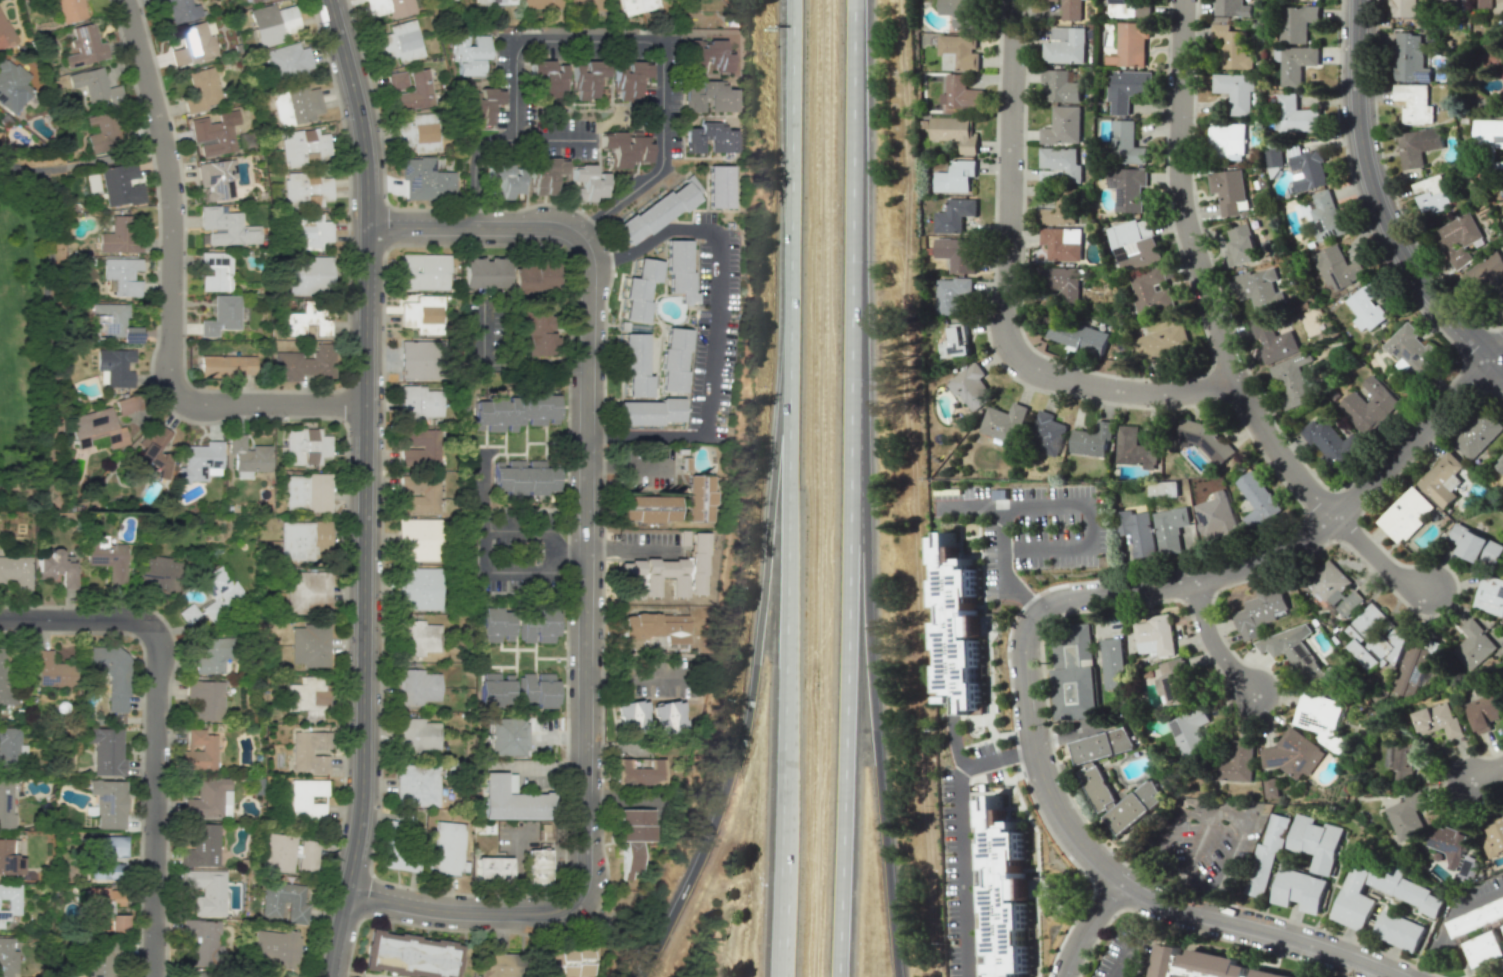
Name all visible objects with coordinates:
building: (251, 0)
building: (496, 2)
building: (1488, 4)
building: (540, 5)
building: (587, 5)
building: (637, 6)
building: (389, 7)
building: (1233, 8)
building: (1404, 8)
building: (1069, 9)
building: (1128, 9)
building: (69, 10)
building: (181, 10)
building: (959, 12)
building: (1297, 22)
building: (272, 23)
building: (5, 34)
road: (600, 41)
building: (400, 42)
building: (192, 44)
building: (85, 45)
building: (1064, 45)
building: (1129, 45)
building: (1232, 47)
building: (959, 50)
building: (708, 52)
building: (468, 57)
building: (1411, 58)
building: (1494, 61)
building: (286, 62)
building: (1294, 63)
street lamp: (162, 76)
building: (396, 81)
building: (542, 81)
building: (587, 82)
building: (92, 84)
building: (631, 84)
building: (12, 85)
building: (1058, 87)
building: (1126, 89)
building: (201, 91)
building: (415, 91)
building: (1235, 92)
building: (1501, 92)
building: (960, 93)
building: (702, 101)
building: (1414, 103)
building: (296, 104)
building: (481, 111)
building: (1294, 114)
street lamp: (339, 117)
building: (1062, 126)
building: (952, 130)
building: (102, 131)
building: (419, 133)
building: (1488, 133)
building: (211, 134)
road: (554, 139)
building: (1226, 141)
building: (704, 143)
building: (1126, 144)
building: (1419, 145)
building: (303, 147)
building: (625, 149)
road: (81, 165)
building: (1059, 165)
road: (790, 170)
building: (1309, 170)
building: (955, 176)
building: (216, 178)
building: (425, 179)
building: (543, 180)
building: (120, 184)
building: (500, 184)
building: (692, 184)
building: (582, 185)
building: (719, 186)
road: (852, 188)
building: (1127, 188)
building: (306, 189)
building: (1230, 191)
building: (1501, 193)
building: (1432, 194)
road: (1377, 205)
building: (1059, 209)
building: (656, 212)
building: (953, 214)
parking lot: (704, 216)
road: (671, 221)
building: (226, 227)
building: (305, 231)
building: (118, 236)
building: (1459, 239)
building: (1062, 243)
building: (1134, 243)
building: (1241, 245)
building: (956, 253)
road: (697, 268)
building: (1338, 268)
parking lot: (731, 269)
building: (215, 270)
building: (680, 270)
building: (420, 271)
building: (480, 273)
parking lot: (705, 273)
building: (122, 275)
building: (543, 275)
building: (1486, 275)
building: (309, 276)
building: (1064, 282)
road: (170, 288)
road: (619, 288)
building: (639, 288)
building: (1259, 288)
building: (1150, 290)
road: (1004, 293)
road: (657, 295)
building: (953, 296)
building: (1366, 307)
parking lot: (726, 312)
building: (221, 316)
building: (418, 316)
building: (306, 319)
road: (714, 319)
park: (34, 320)
building: (112, 323)
road: (1219, 329)
building: (533, 332)
road: (45, 336)
building: (1077, 336)
street lamp: (187, 339)
building: (1273, 341)
building: (955, 342)
building: (1162, 342)
building: (1411, 350)
road: (1498, 353)
road: (658, 357)
building: (673, 358)
building: (417, 360)
building: (306, 363)
road: (504, 363)
building: (636, 364)
building: (226, 365)
parking lot: (725, 366)
building: (114, 367)
road: (621, 369)
street lamp: (567, 371)
parking lot: (698, 374)
road: (655, 380)
building: (1292, 380)
road: (689, 381)
building: (970, 386)
road: (672, 394)
building: (417, 401)
building: (126, 405)
building: (1370, 405)
building: (518, 409)
building: (650, 412)
street lamp: (277, 419)
street lamp: (385, 422)
building: (1003, 422)
building: (96, 428)
building: (1047, 433)
parking lot: (717, 434)
building: (1478, 434)
building: (1202, 438)
building: (1092, 439)
building: (235, 442)
building: (1333, 443)
building: (304, 446)
building: (415, 449)
building: (1135, 449)
building: (153, 450)
road: (787, 453)
building: (253, 458)
building: (200, 462)
building: (1500, 464)
road: (630, 465)
building: (528, 480)
building: (1442, 480)
road: (364, 487)
building: (1163, 489)
building: (306, 493)
road: (484, 493)
building: (417, 494)
building: (697, 498)
building: (1258, 500)
road: (1083, 501)
building: (646, 506)
building: (1406, 515)
building: (1217, 518)
parking lot: (1032, 526)
building: (1170, 529)
building: (1138, 532)
building: (305, 540)
building: (419, 540)
road: (1290, 543)
building: (1476, 545)
road: (634, 550)
building: (106, 556)
road: (1002, 565)
building: (56, 566)
building: (16, 571)
road: (487, 571)
building: (673, 573)
building: (160, 576)
road: (585, 578)
building: (1335, 589)
building: (418, 591)
building: (307, 592)
building: (1490, 595)
building: (214, 596)
building: (1261, 611)
road: (76, 618)
building: (495, 625)
building: (538, 625)
building: (650, 627)
building: (959, 627)
building: (1156, 636)
building: (420, 639)
building: (1074, 641)
building: (311, 644)
road: (1212, 644)
building: (1474, 645)
building: (1296, 651)
building: (209, 656)
building: (1112, 660)
road: (753, 668)
street lamp: (566, 669)
building: (51, 671)
building: (1410, 671)
building: (111, 673)
road: (635, 675)
road: (846, 676)
road: (869, 676)
street lamp: (173, 677)
building: (4, 681)
building: (1175, 681)
building: (537, 689)
building: (415, 690)
building: (496, 691)
building: (1074, 692)
building: (307, 697)
building: (205, 699)
building: (1484, 711)
building: (665, 717)
building: (1320, 718)
building: (629, 719)
building: (1437, 720)
building: (1190, 731)
building: (417, 738)
building: (503, 738)
road: (955, 741)
building: (1098, 742)
building: (11, 746)
building: (105, 749)
building: (199, 751)
building: (309, 752)
building: (1293, 753)
building: (1400, 759)
building: (1237, 763)
road: (783, 772)
road: (1486, 773)
building: (634, 774)
building: (1093, 785)
building: (1270, 787)
building: (414, 788)
building: (206, 798)
building: (306, 799)
road: (155, 802)
building: (511, 802)
building: (109, 803)
building: (6, 805)
building: (1132, 806)
building: (1407, 814)
building: (632, 826)
road: (1157, 834)
road: (1237, 834)
road: (961, 835)
building: (1494, 839)
parking lot: (1197, 842)
building: (1451, 843)
building: (1316, 844)
building: (201, 847)
road: (1194, 847)
building: (448, 848)
building: (276, 851)
building: (1267, 853)
building: (107, 856)
building: (305, 856)
building: (9, 859)
building: (401, 859)
building: (625, 863)
building: (535, 868)
building: (490, 871)
road: (517, 873)
parking lot: (964, 879)
road: (1120, 881)
building: (206, 890)
building: (1301, 890)
road: (1174, 891)
building: (1006, 893)
building: (107, 896)
building: (9, 901)
building: (270, 901)
road: (1209, 902)
building: (1355, 906)
road: (1447, 916)
building: (1479, 919)
building: (117, 922)
road: (1087, 927)
street lamp: (140, 938)
building: (201, 940)
building: (274, 948)
building: (1486, 949)
building: (410, 955)
building: (99, 956)
road: (1124, 956)
building: (7, 957)
building: (1167, 959)
building: (495, 963)
building: (566, 963)
building: (1212, 965)
building: (194, 974)
building: (1270, 974)

